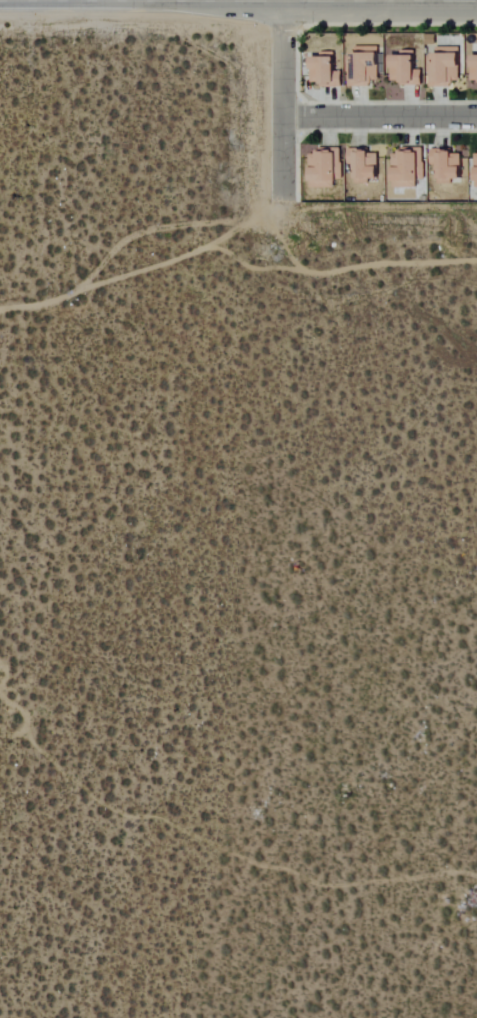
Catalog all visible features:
building: (366, 66)
building: (447, 67)
building: (475, 68)
building: (408, 69)
building: (328, 70)
road: (281, 99)
road: (379, 118)
building: (476, 153)
building: (366, 165)
building: (449, 165)
building: (409, 168)
building: (327, 169)
road: (129, 236)

